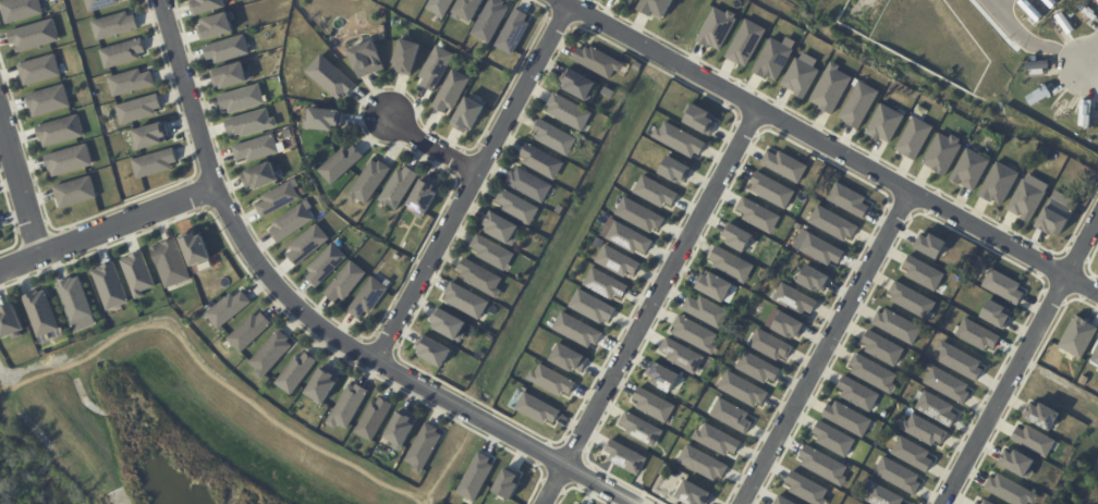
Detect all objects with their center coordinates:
building: (629, 1)
road: (995, 2)
building: (99, 3)
building: (207, 5)
building: (442, 8)
building: (19, 9)
building: (471, 9)
building: (661, 9)
building: (492, 22)
building: (113, 24)
building: (215, 24)
building: (716, 27)
building: (513, 29)
building: (33, 35)
building: (745, 41)
road: (1029, 42)
building: (229, 50)
building: (122, 51)
building: (407, 52)
road: (1091, 56)
building: (367, 57)
building: (772, 58)
building: (600, 63)
building: (435, 67)
building: (38, 69)
building: (229, 74)
road: (1091, 74)
building: (331, 76)
building: (800, 76)
building: (130, 81)
building: (582, 87)
building: (830, 87)
building: (450, 90)
building: (47, 99)
building: (243, 100)
building: (857, 103)
building: (137, 109)
building: (468, 112)
building: (571, 113)
building: (326, 118)
building: (699, 119)
building: (884, 122)
building: (252, 124)
building: (59, 130)
building: (288, 133)
building: (149, 135)
building: (913, 137)
building: (557, 139)
building: (680, 139)
road: (831, 145)
road: (432, 146)
building: (258, 149)
building: (941, 152)
building: (68, 159)
building: (342, 161)
building: (544, 163)
building: (156, 164)
building: (784, 164)
building: (674, 169)
building: (969, 169)
building: (264, 179)
building: (369, 181)
road: (474, 182)
building: (998, 183)
road: (21, 186)
building: (399, 186)
building: (530, 186)
building: (770, 189)
building: (74, 190)
building: (656, 192)
building: (423, 196)
building: (1027, 197)
building: (847, 199)
building: (279, 201)
building: (518, 209)
building: (1056, 212)
building: (640, 214)
building: (757, 214)
building: (290, 221)
building: (833, 223)
building: (503, 231)
road: (106, 232)
building: (736, 235)
building: (629, 236)
building: (307, 242)
building: (929, 244)
building: (195, 247)
building: (822, 249)
building: (495, 254)
building: (398, 258)
building: (618, 260)
building: (170, 261)
building: (730, 262)
building: (325, 263)
building: (137, 272)
building: (923, 273)
building: (814, 278)
building: (483, 279)
building: (345, 281)
building: (605, 283)
building: (110, 284)
building: (712, 284)
building: (1003, 284)
building: (367, 296)
building: (75, 297)
building: (794, 298)
building: (911, 299)
building: (467, 303)
road: (648, 304)
building: (593, 306)
building: (230, 308)
building: (40, 310)
building: (705, 310)
building: (996, 314)
building: (11, 321)
road: (315, 324)
building: (788, 324)
building: (895, 324)
building: (451, 327)
building: (577, 329)
building: (496, 330)
building: (251, 331)
building: (694, 333)
building: (976, 334)
building: (1078, 335)
building: (770, 344)
road: (821, 345)
building: (882, 347)
building: (435, 353)
building: (272, 354)
building: (682, 354)
building: (1095, 356)
building: (570, 358)
building: (957, 359)
road: (1018, 362)
building: (758, 367)
building: (297, 372)
building: (873, 372)
building: (663, 374)
building: (552, 380)
building: (947, 383)
building: (325, 385)
building: (742, 389)
building: (856, 392)
building: (652, 403)
building: (350, 406)
building: (538, 408)
building: (937, 408)
building: (1044, 414)
building: (731, 415)
building: (846, 417)
building: (375, 419)
building: (642, 428)
building: (924, 429)
building: (403, 430)
building: (832, 438)
building: (718, 439)
building: (1033, 439)
building: (426, 447)
building: (913, 454)
building: (624, 455)
building: (1016, 462)
building: (703, 463)
building: (822, 465)
building: (898, 474)
building: (475, 476)
building: (507, 482)
building: (806, 487)
building: (1010, 489)
building: (695, 493)
building: (882, 495)
building: (783, 500)
building: (983, 501)
building: (576, 503)

